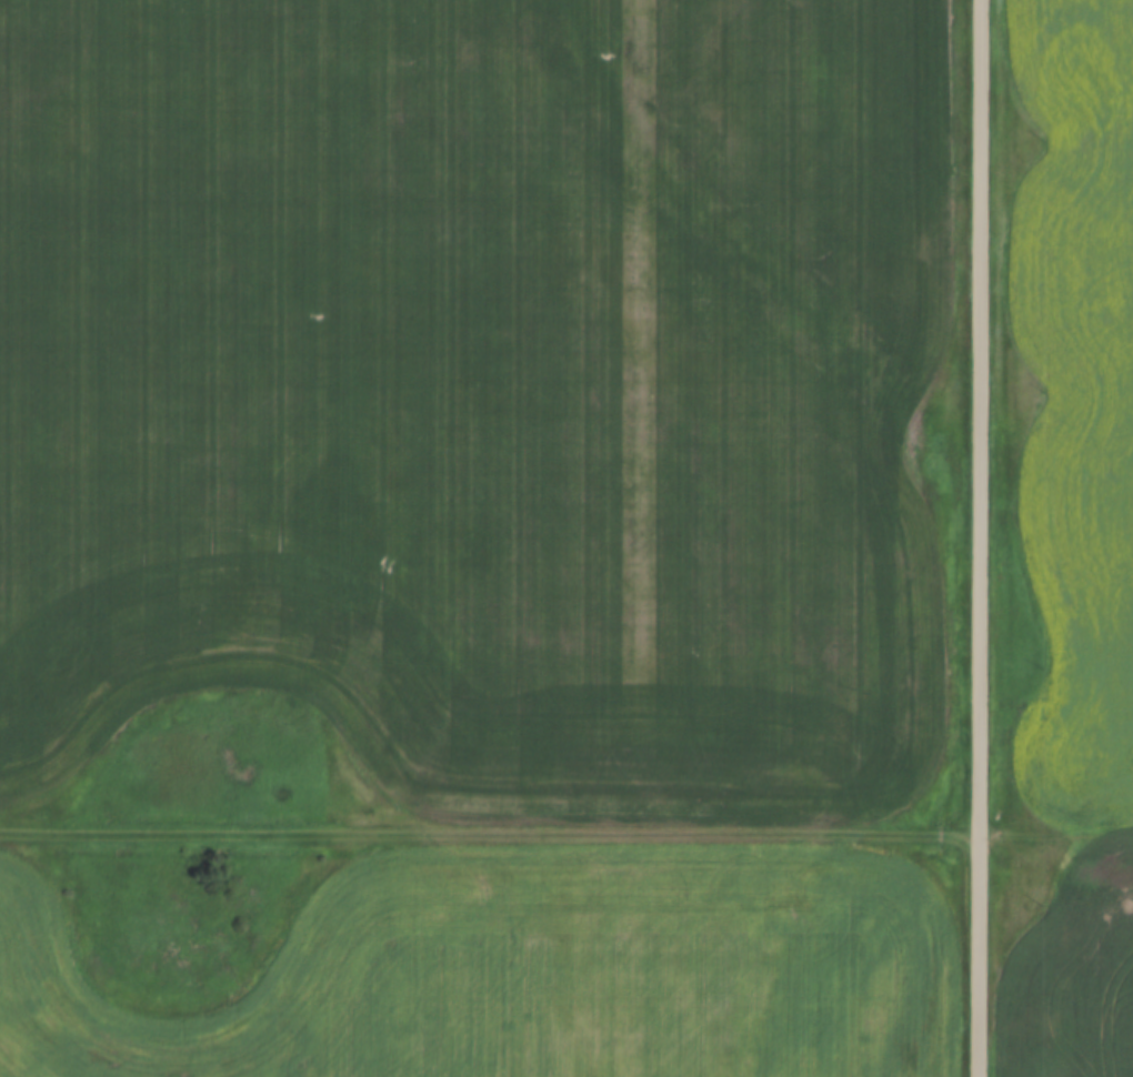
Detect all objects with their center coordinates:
road: (976, 538)
road: (566, 832)

